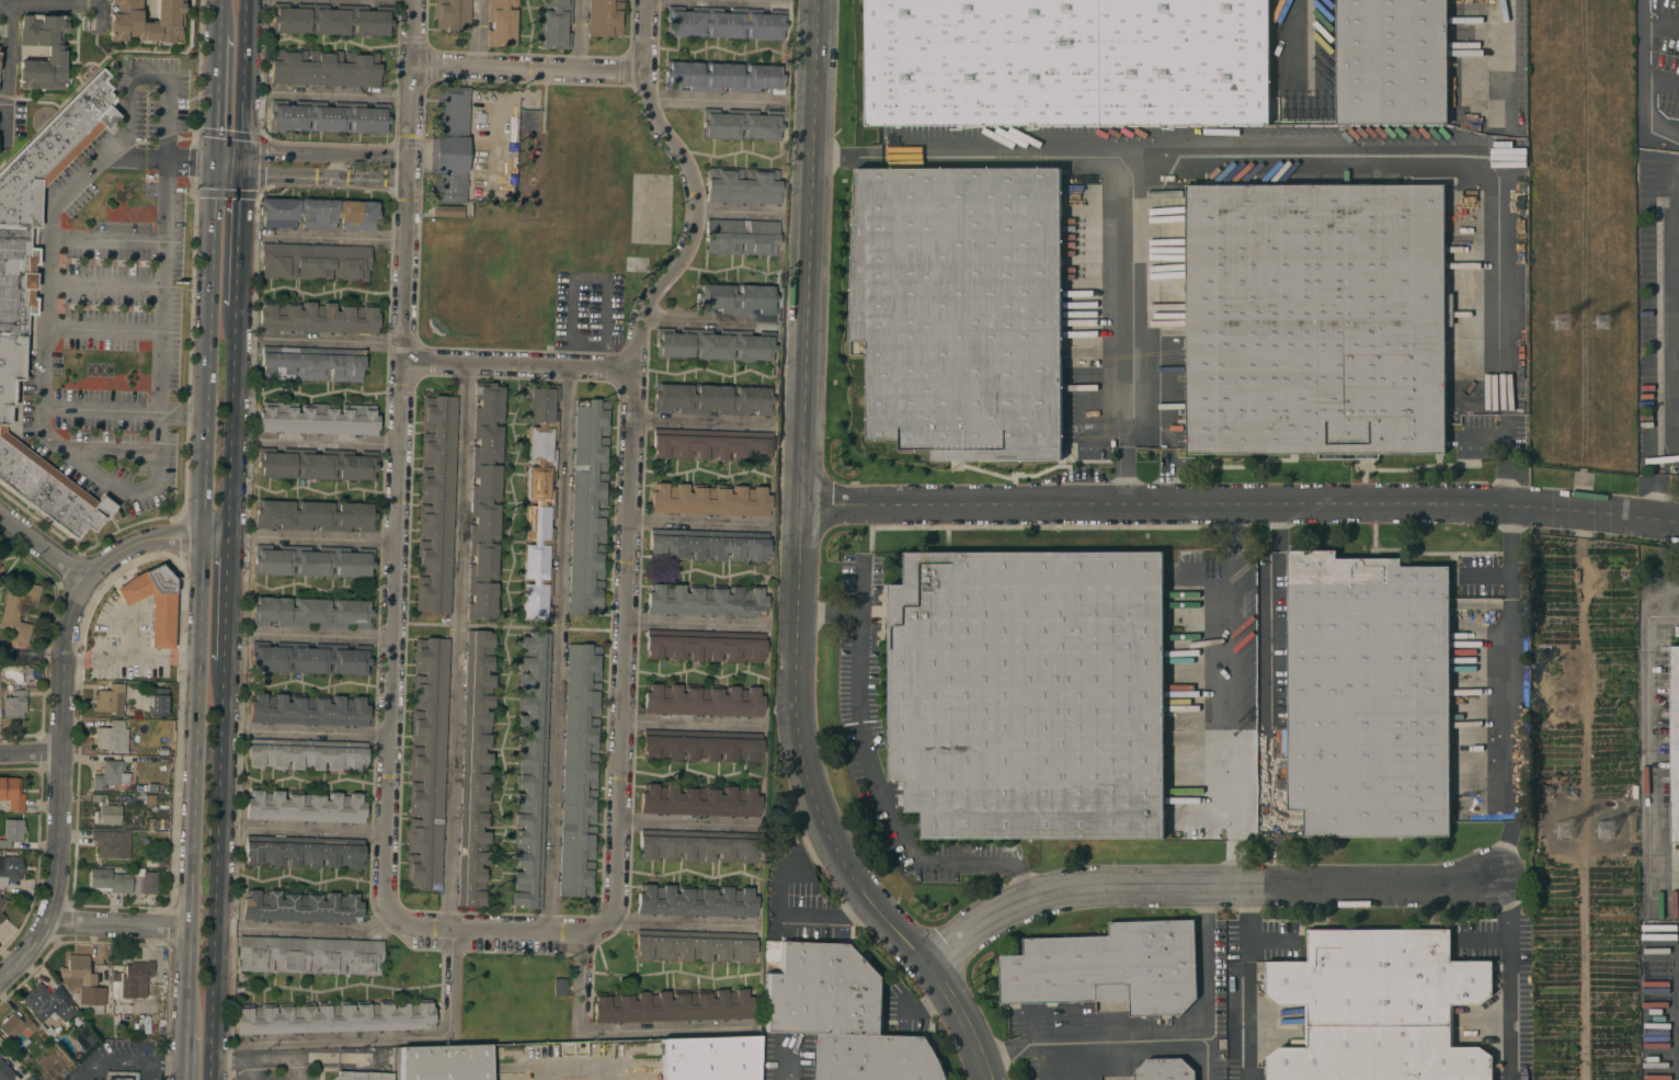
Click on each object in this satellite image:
road: (396, 0)
road: (717, 2)
road: (100, 3)
road: (49, 5)
building: (453, 14)
road: (216, 16)
building: (331, 19)
building: (604, 19)
road: (99, 21)
building: (124, 21)
building: (501, 22)
building: (726, 22)
building: (555, 23)
road: (478, 32)
road: (579, 34)
road: (1503, 42)
road: (1293, 50)
building: (55, 53)
building: (1069, 64)
building: (1395, 64)
road: (528, 66)
building: (324, 68)
road: (5, 70)
road: (147, 76)
building: (723, 76)
road: (412, 78)
road: (243, 80)
road: (1644, 81)
road: (343, 95)
road: (214, 96)
road: (713, 101)
building: (329, 116)
building: (528, 121)
building: (741, 124)
building: (450, 144)
road: (285, 150)
road: (369, 155)
road: (118, 156)
road: (832, 156)
road: (849, 156)
road: (1318, 156)
road: (227, 160)
road: (682, 161)
road: (331, 166)
road: (284, 175)
road: (1158, 175)
road: (368, 180)
building: (743, 185)
road: (740, 209)
building: (448, 211)
building: (318, 213)
park: (650, 213)
road: (1131, 226)
road: (238, 234)
building: (740, 236)
road: (335, 237)
road: (105, 238)
building: (315, 261)
road: (1497, 265)
road: (587, 278)
road: (104, 281)
park: (481, 292)
building: (735, 298)
building: (962, 304)
building: (18, 306)
parking lot: (590, 312)
building: (1320, 316)
building: (318, 317)
road: (705, 318)
power tower: (1618, 321)
power tower: (1577, 326)
road: (102, 329)
road: (333, 341)
building: (715, 344)
road: (1670, 362)
building: (312, 363)
road: (516, 364)
road: (703, 368)
building: (712, 398)
road: (99, 409)
road: (181, 412)
road: (1507, 413)
building: (318, 418)
road: (699, 421)
road: (230, 423)
road: (1507, 433)
road: (333, 444)
building: (712, 444)
road: (108, 448)
road: (1507, 448)
road: (1165, 452)
building: (316, 464)
road: (141, 489)
building: (709, 500)
building: (486, 501)
building: (538, 502)
building: (436, 503)
road: (1241, 505)
building: (587, 507)
building: (315, 514)
road: (697, 521)
road: (395, 535)
road: (325, 539)
road: (150, 541)
road: (43, 544)
building: (708, 544)
building: (1, 558)
building: (313, 561)
building: (0, 566)
road: (800, 567)
road: (199, 596)
road: (225, 600)
building: (706, 600)
building: (152, 602)
building: (18, 611)
building: (311, 612)
road: (624, 615)
road: (1663, 615)
road: (694, 622)
road: (323, 635)
road: (456, 644)
building: (704, 645)
road: (557, 647)
building: (309, 658)
road: (1269, 661)
building: (1032, 694)
building: (108, 697)
building: (1371, 697)
building: (703, 701)
building: (158, 702)
building: (14, 704)
building: (308, 709)
road: (692, 721)
road: (319, 730)
building: (112, 737)
road: (1237, 737)
road: (1648, 739)
building: (700, 744)
building: (1674, 744)
road: (59, 746)
road: (1510, 749)
road: (30, 751)
building: (307, 753)
building: (426, 763)
building: (476, 766)
building: (530, 770)
building: (579, 770)
building: (110, 774)
road: (878, 784)
building: (11, 794)
building: (699, 800)
building: (305, 807)
building: (107, 808)
road: (688, 822)
road: (316, 830)
building: (12, 831)
power tower: (1617, 831)
power tower: (1574, 834)
building: (106, 844)
building: (698, 845)
building: (304, 851)
building: (10, 867)
road: (215, 869)
building: (123, 880)
road: (1210, 882)
building: (696, 900)
building: (1, 902)
building: (301, 907)
road: (778, 911)
building: (2, 919)
road: (81, 920)
road: (679, 922)
road: (500, 926)
road: (318, 928)
building: (695, 945)
building: (309, 954)
building: (1107, 968)
building: (138, 975)
road: (1508, 977)
road: (1245, 980)
building: (89, 986)
building: (559, 987)
park: (514, 997)
building: (48, 1002)
building: (672, 1005)
building: (1378, 1007)
building: (843, 1015)
building: (335, 1016)
building: (16, 1026)
road: (612, 1027)
road: (1156, 1027)
building: (83, 1037)
road: (401, 1038)
road: (1206, 1049)
building: (0, 1053)
road: (185, 1056)
road: (261, 1058)
building: (709, 1058)
road: (127, 1061)
building: (444, 1062)
road: (252, 1069)
road: (575, 1069)
building: (1165, 1070)
building: (4, 1071)
building: (121, 1076)
building: (362, 1076)
building: (30, 1078)

